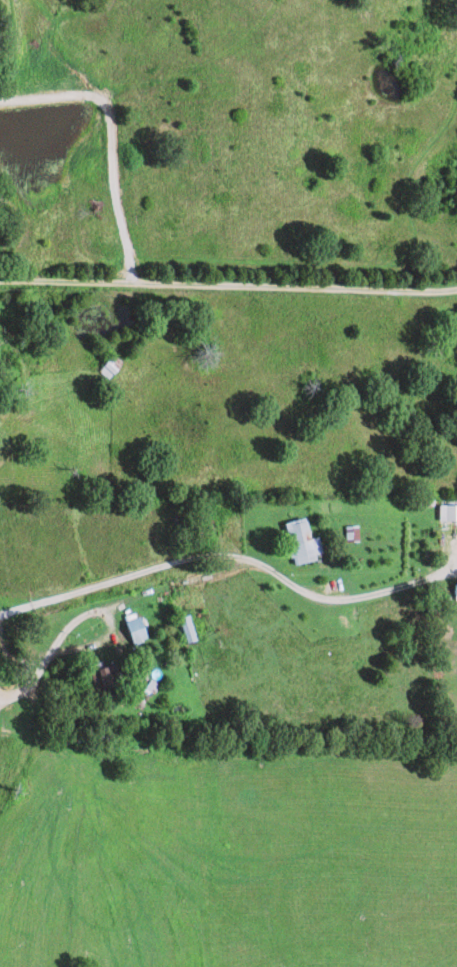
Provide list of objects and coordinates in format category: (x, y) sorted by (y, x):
road: (228, 283)
building: (451, 513)
building: (310, 541)
building: (193, 629)

